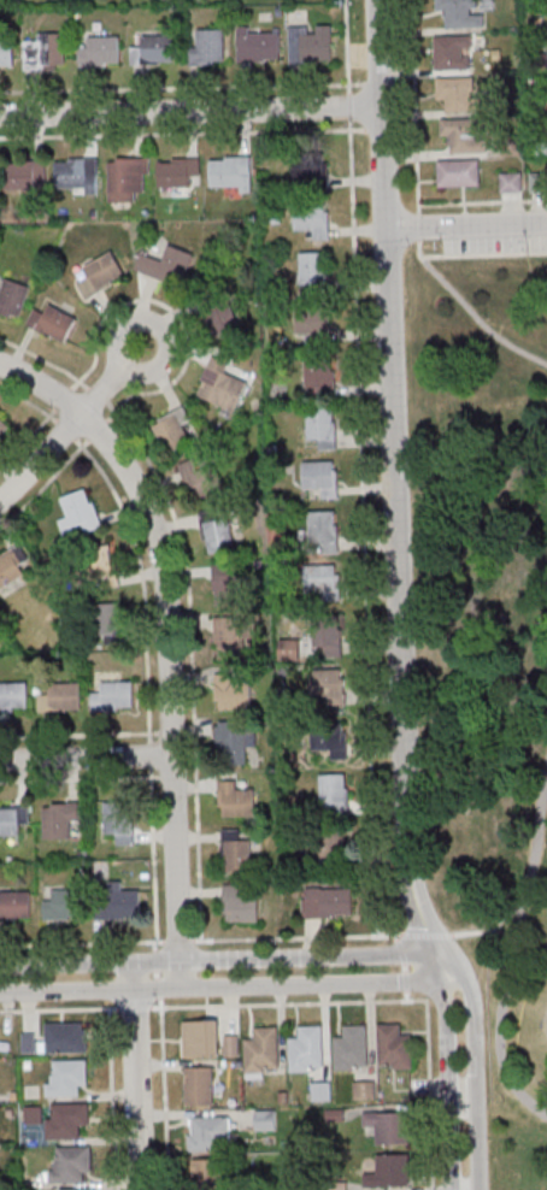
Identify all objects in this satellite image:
building: (460, 13)
building: (311, 45)
building: (259, 47)
building: (207, 48)
building: (153, 49)
building: (101, 51)
building: (46, 52)
building: (453, 52)
building: (6, 54)
building: (459, 94)
road: (190, 110)
building: (465, 134)
building: (310, 170)
building: (178, 171)
building: (459, 172)
building: (230, 173)
building: (76, 176)
building: (24, 177)
building: (128, 177)
building: (511, 184)
road: (417, 188)
road: (482, 201)
building: (310, 220)
road: (465, 223)
road: (419, 226)
parking lot: (494, 237)
road: (483, 254)
building: (165, 265)
building: (313, 269)
building: (102, 271)
building: (13, 299)
road: (471, 312)
building: (220, 317)
building: (52, 323)
building: (313, 323)
building: (320, 375)
road: (111, 379)
building: (222, 384)
building: (322, 426)
building: (4, 429)
building: (172, 430)
road: (39, 455)
road: (361, 467)
building: (322, 477)
building: (198, 479)
road: (393, 484)
building: (80, 514)
building: (323, 528)
building: (220, 536)
building: (104, 566)
building: (12, 569)
park: (488, 576)
building: (324, 585)
building: (227, 588)
building: (108, 619)
building: (230, 638)
road: (166, 640)
building: (328, 641)
building: (333, 687)
building: (113, 694)
building: (233, 694)
building: (11, 695)
building: (60, 696)
building: (234, 742)
building: (333, 743)
road: (86, 756)
building: (334, 794)
building: (235, 799)
building: (60, 818)
building: (8, 820)
building: (119, 820)
building: (331, 843)
building: (236, 852)
building: (120, 902)
building: (328, 902)
building: (239, 903)
building: (14, 905)
building: (63, 905)
road: (507, 918)
road: (455, 935)
road: (229, 938)
road: (219, 958)
road: (512, 960)
road: (220, 982)
building: (67, 1037)
building: (201, 1038)
building: (230, 1044)
building: (352, 1048)
building: (394, 1048)
building: (307, 1049)
building: (263, 1050)
road: (474, 1068)
park: (518, 1073)
road: (136, 1074)
building: (66, 1077)
road: (445, 1077)
building: (199, 1085)
road: (460, 1089)
building: (364, 1090)
building: (34, 1114)
building: (66, 1120)
building: (388, 1126)
building: (208, 1132)
building: (71, 1165)
building: (208, 1174)
building: (399, 1176)
building: (77, 1189)

